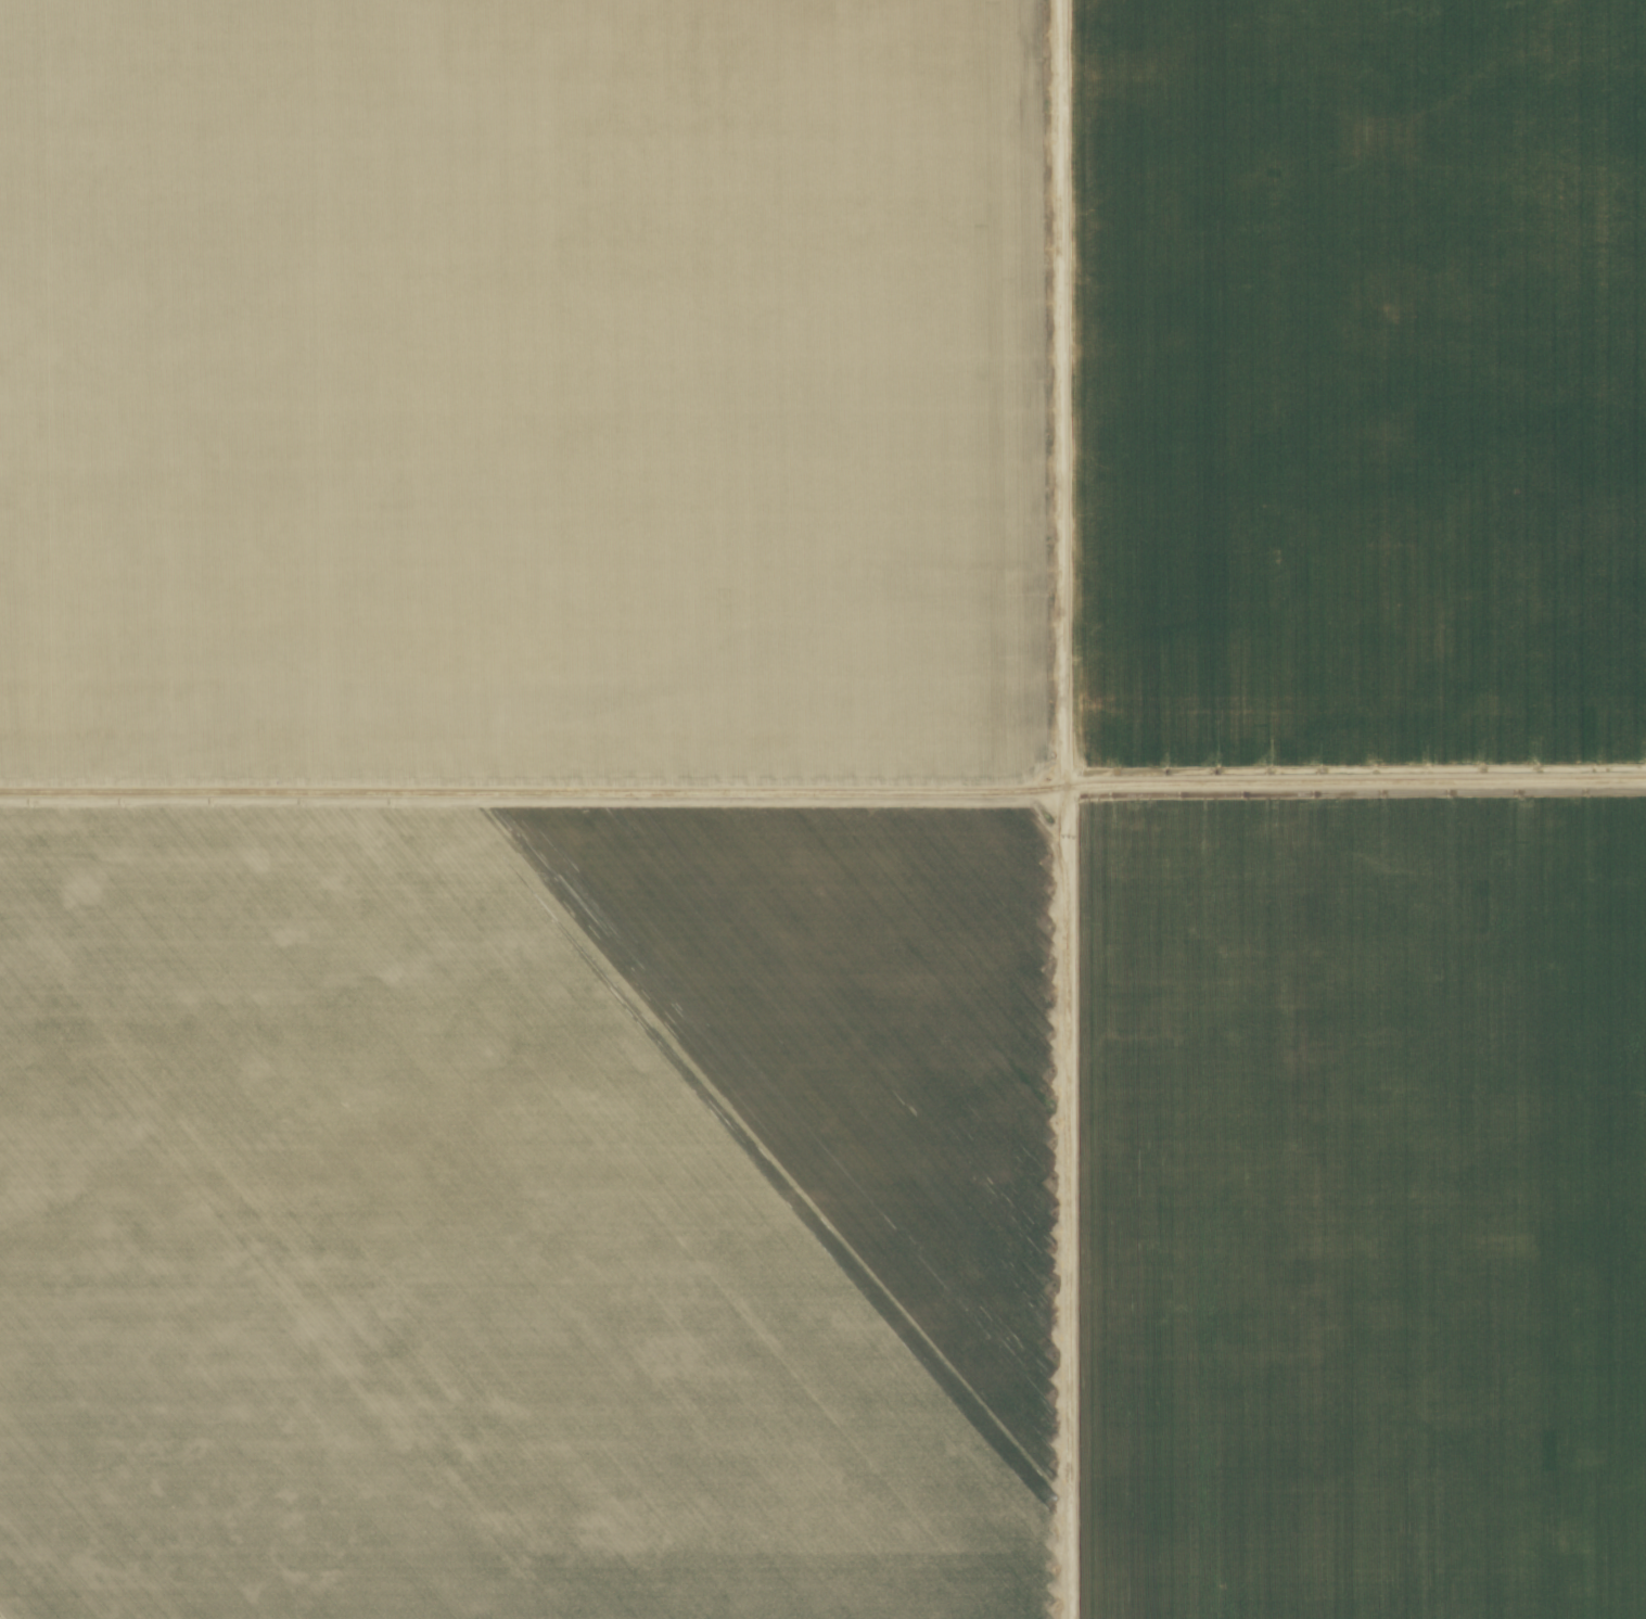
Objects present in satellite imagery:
road: (1063, 676)
crop: (822, 809)

